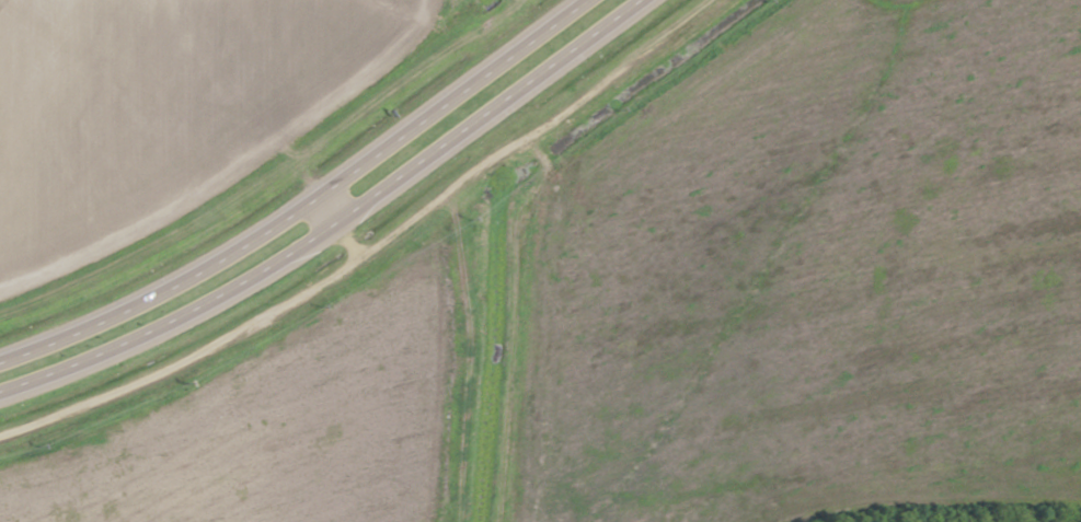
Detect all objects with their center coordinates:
road: (304, 200)
road: (330, 218)
road: (329, 224)
road: (367, 239)

